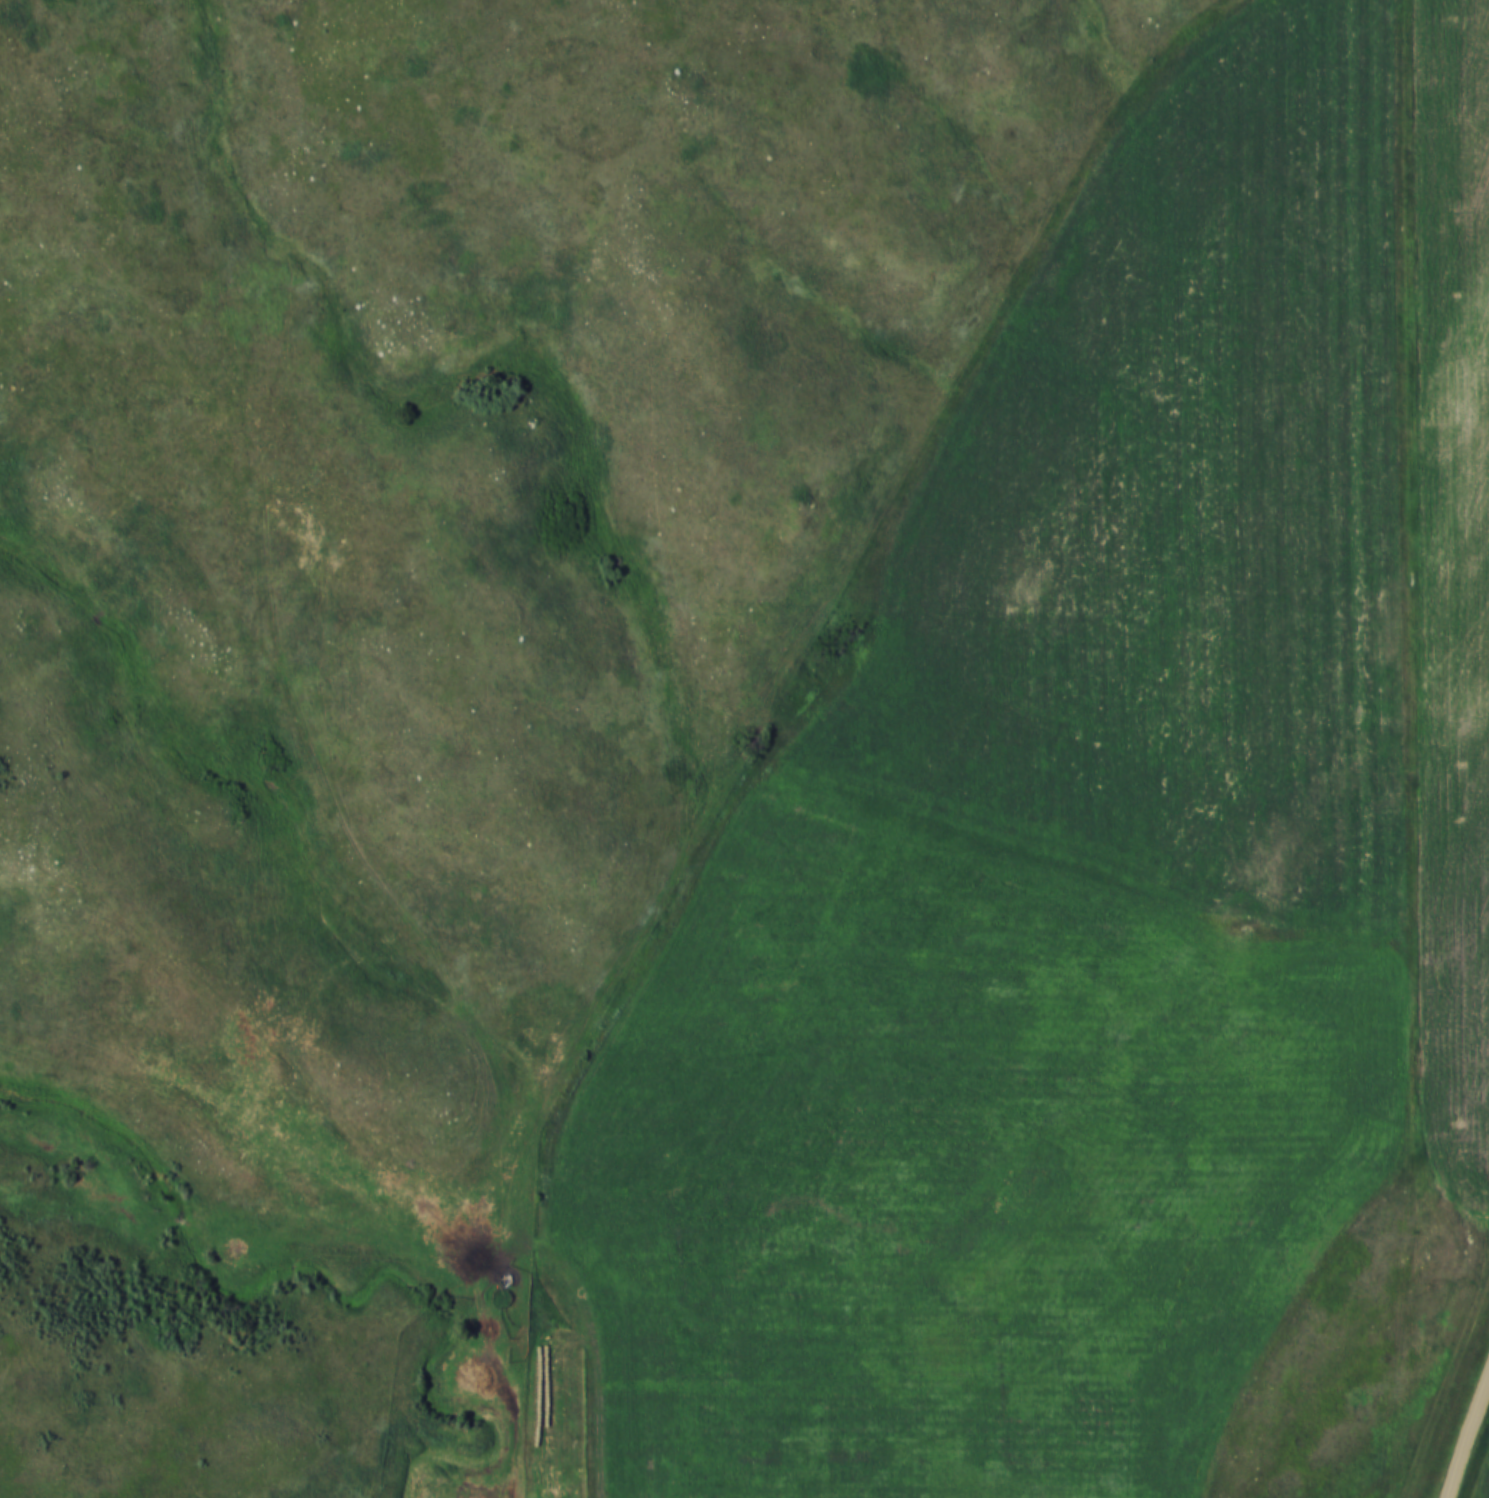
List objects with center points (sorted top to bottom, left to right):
road: (1414, 1168)
road: (1469, 1441)

